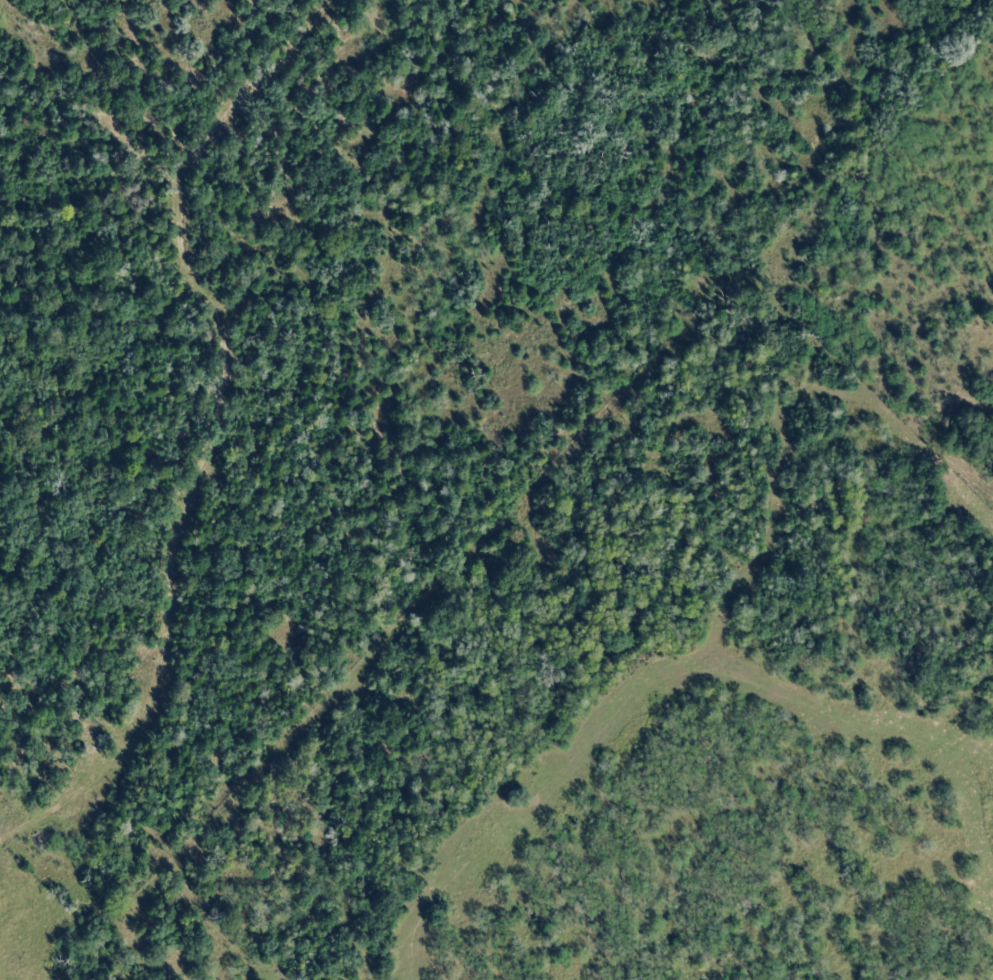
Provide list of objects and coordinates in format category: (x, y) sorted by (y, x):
road: (204, 429)

